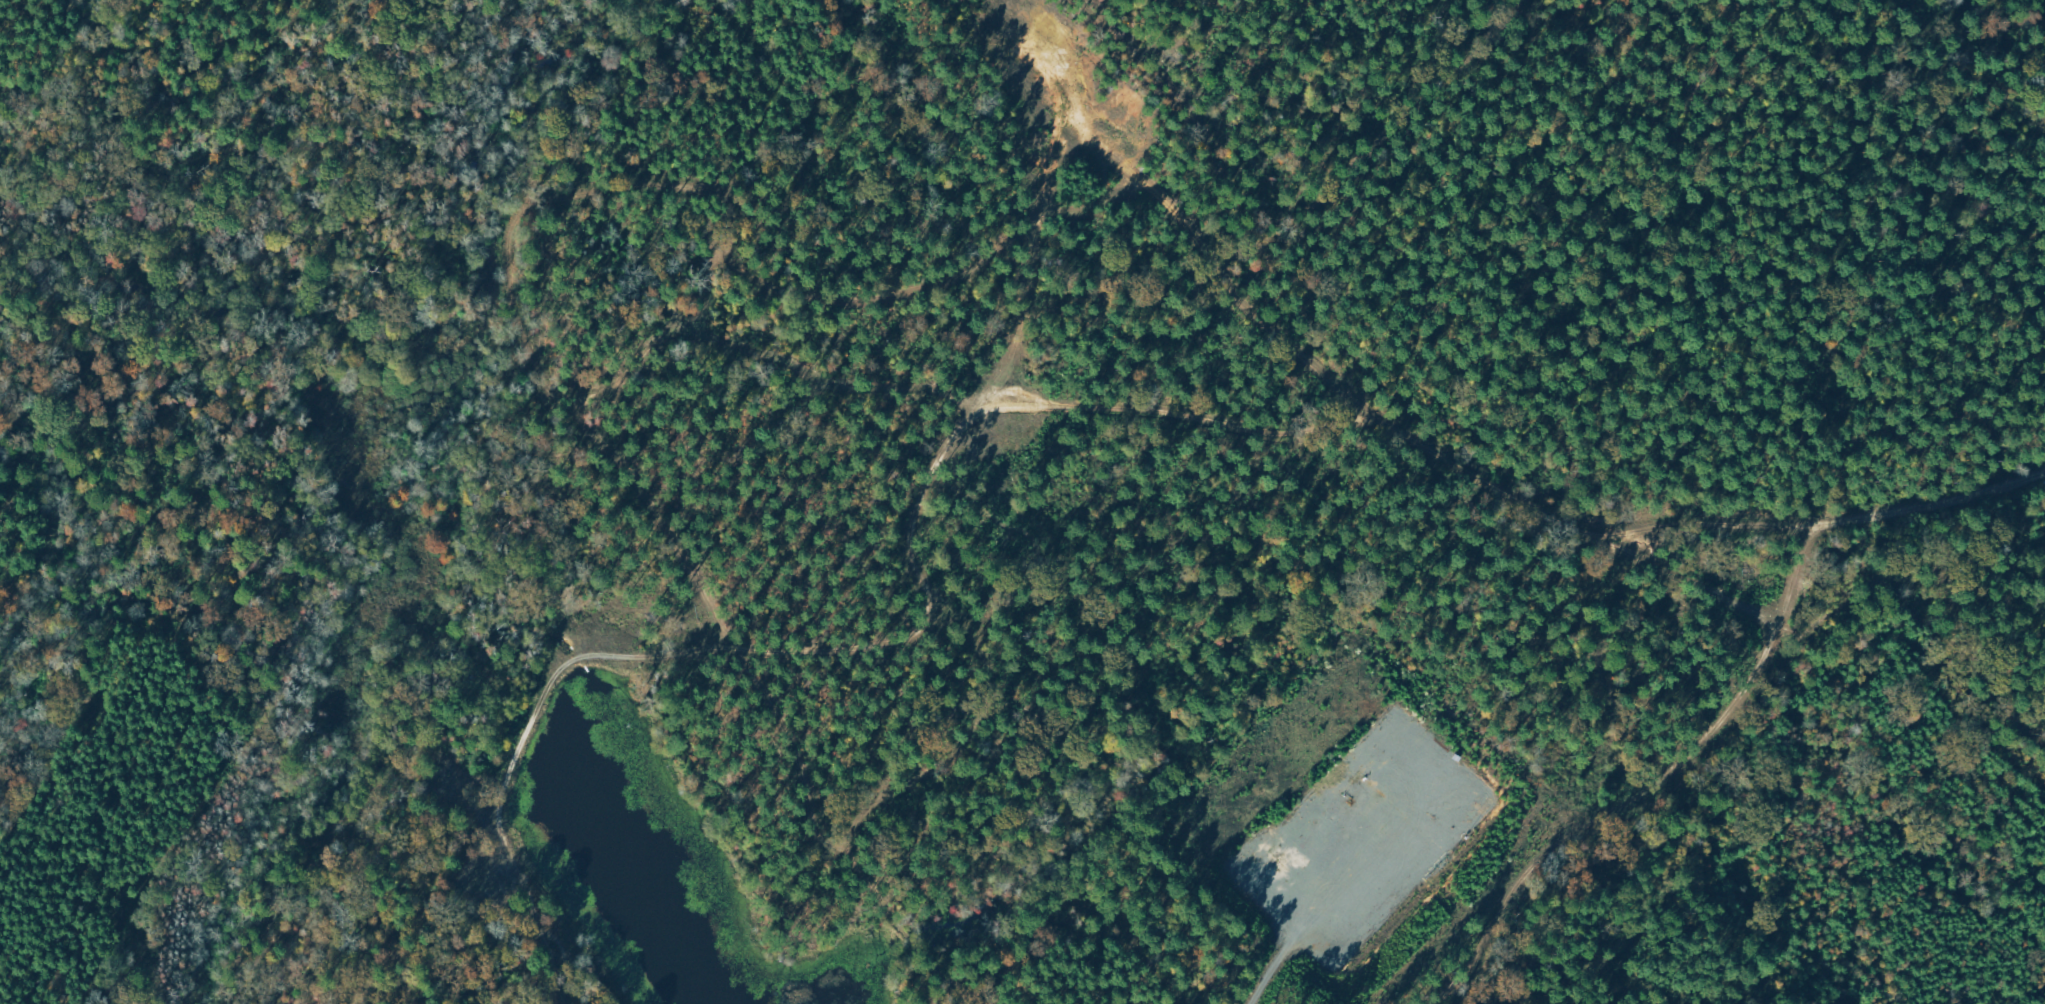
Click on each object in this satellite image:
road: (2024, 428)
road: (1831, 695)

